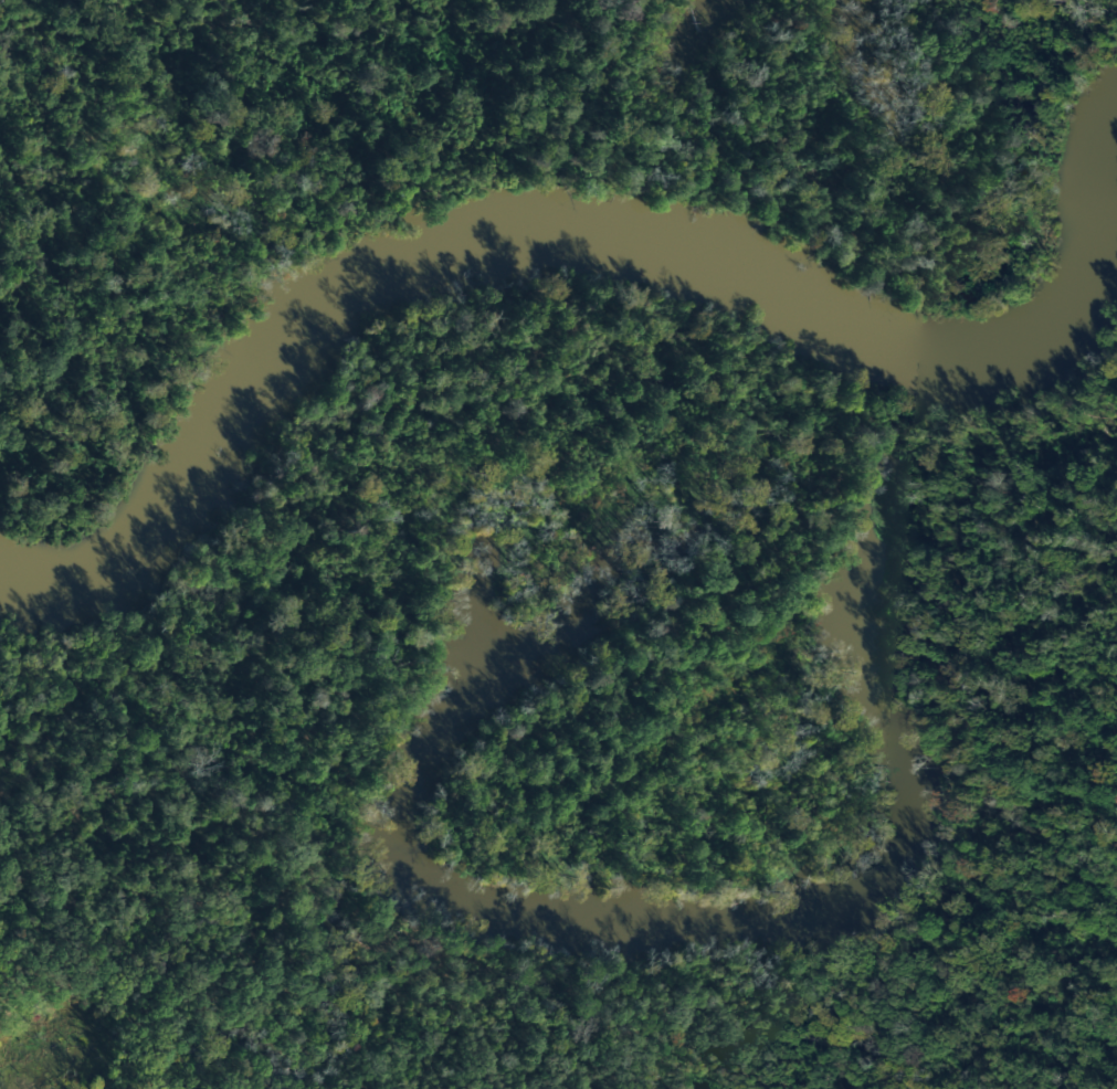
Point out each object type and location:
river: (596, 232)

